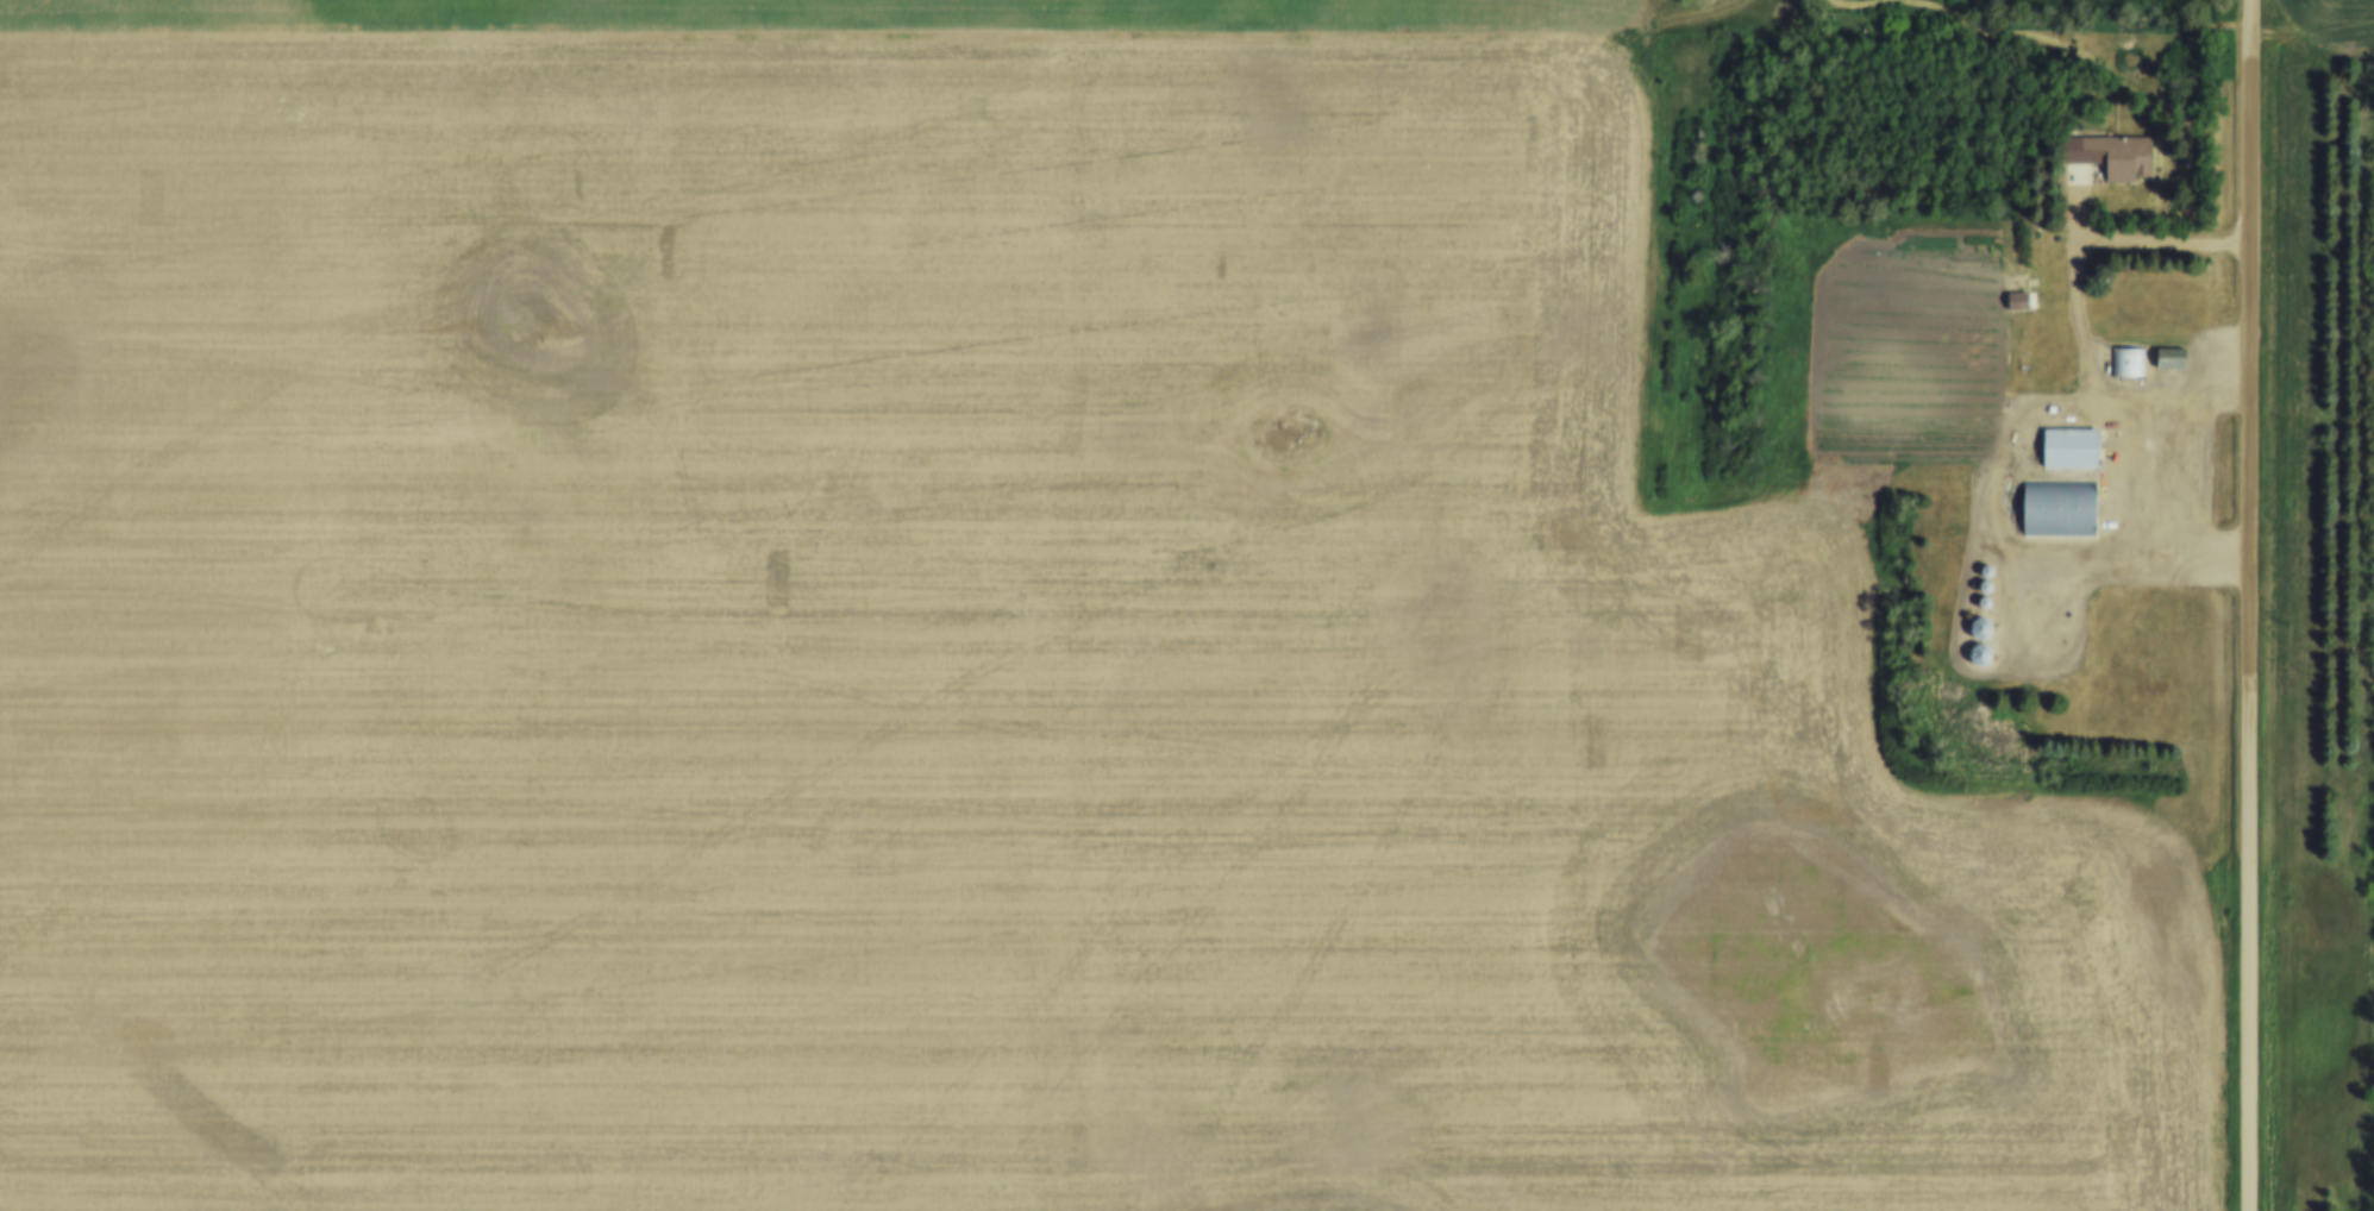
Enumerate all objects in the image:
road: (2311, 46)
building: (2122, 150)
road: (2132, 243)
building: (2025, 277)
building: (2175, 352)
building: (2134, 358)
building: (2074, 444)
road: (2199, 469)
building: (2065, 503)
building: (1992, 565)
silo: (1992, 565)
building: (1990, 582)
silo: (1990, 582)
building: (1990, 597)
silo: (1990, 597)
road: (2249, 604)
building: (1986, 623)
silo: (1986, 623)
building: (1978, 629)
building: (1984, 650)
silo: (1984, 650)
building: (1977, 655)

